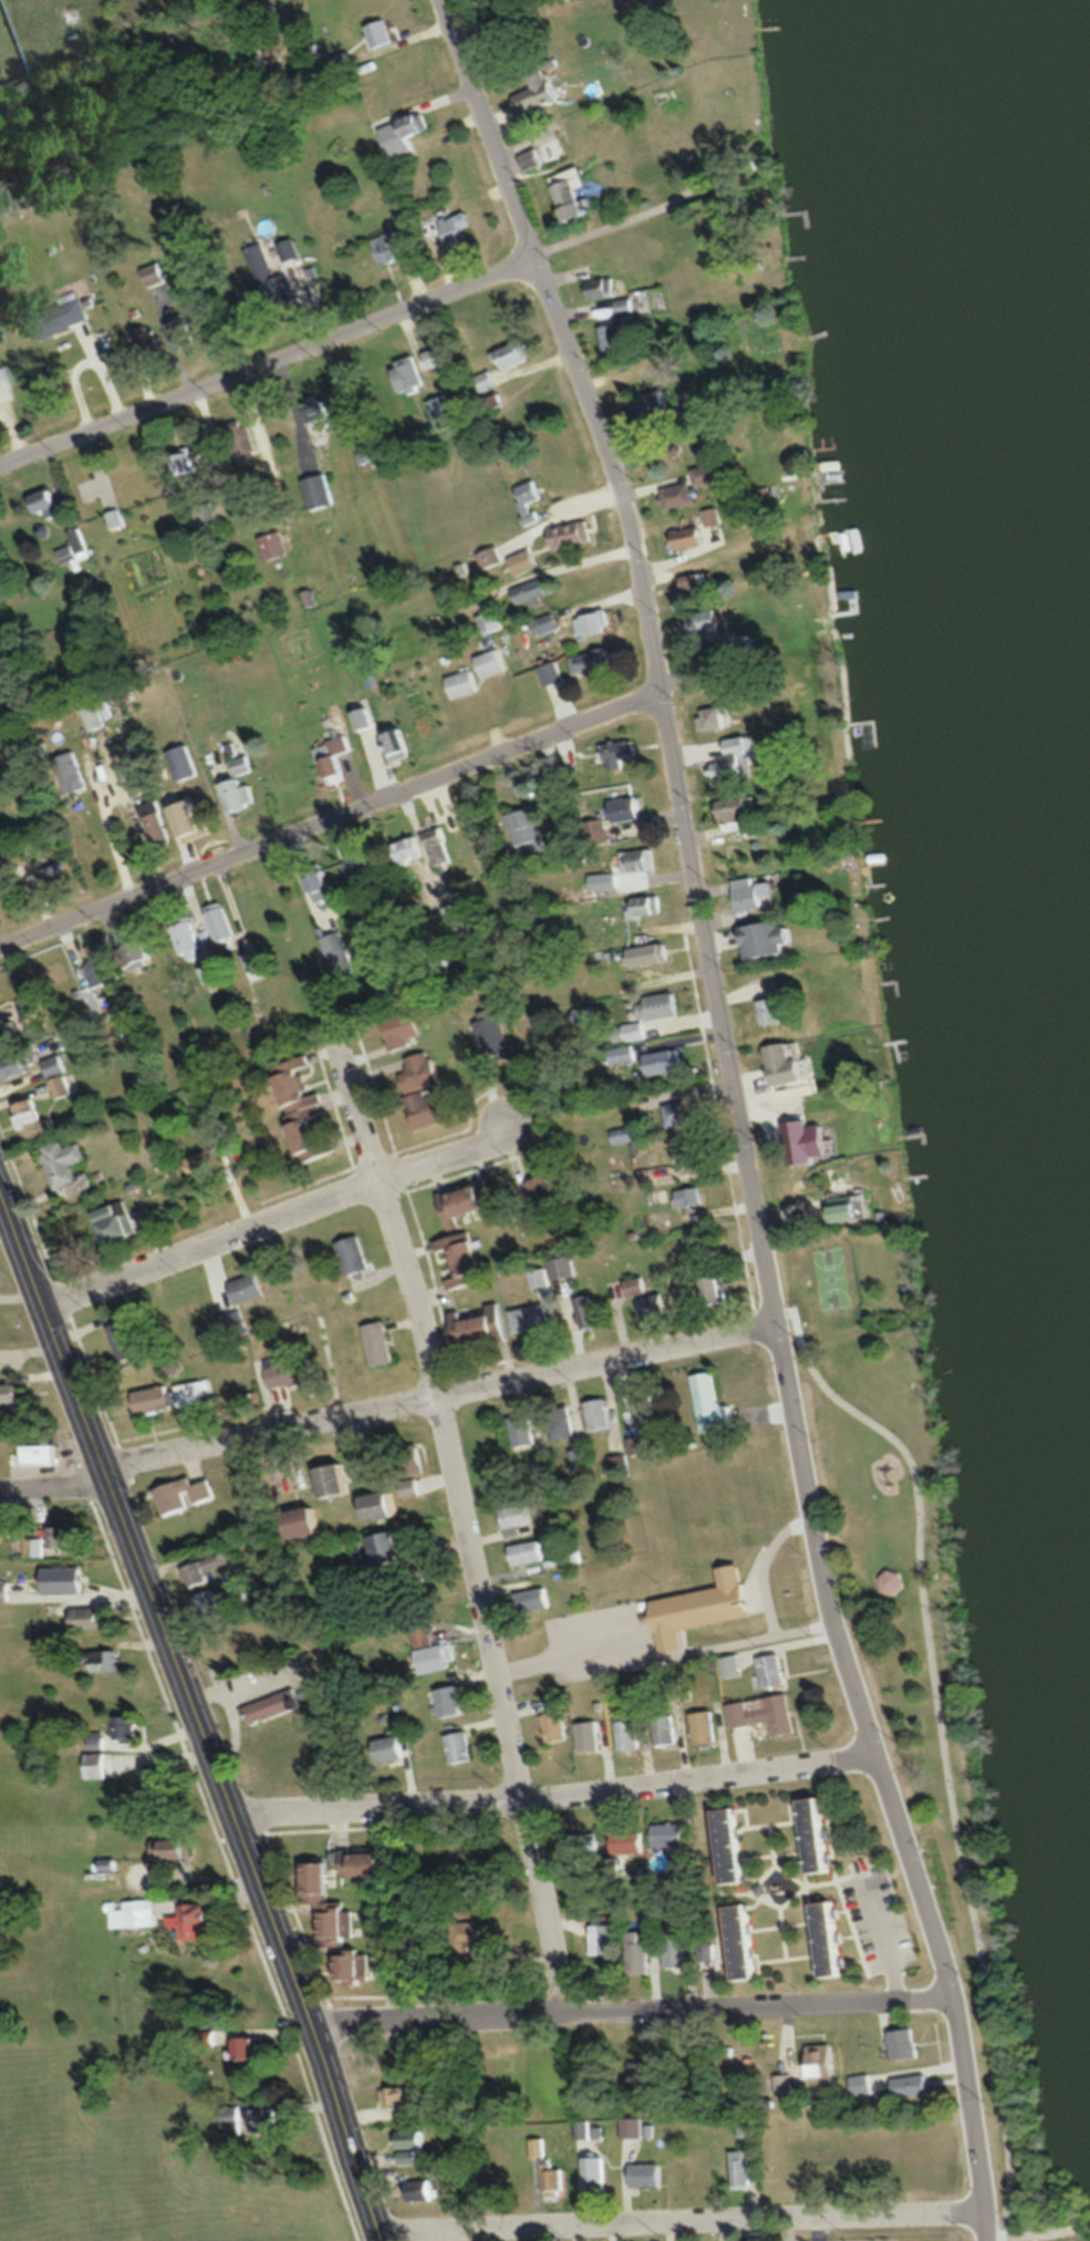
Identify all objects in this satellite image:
building: (380, 32)
building: (540, 87)
building: (405, 131)
building: (577, 195)
building: (460, 226)
building: (391, 246)
building: (288, 248)
building: (157, 273)
building: (271, 273)
building: (602, 286)
building: (629, 304)
building: (62, 317)
road: (355, 329)
building: (189, 332)
building: (614, 337)
building: (152, 340)
building: (516, 353)
building: (436, 358)
building: (409, 374)
building: (3, 379)
building: (486, 380)
building: (497, 401)
building: (653, 403)
building: (445, 413)
building: (241, 437)
building: (186, 462)
building: (712, 473)
building: (319, 492)
building: (681, 495)
building: (529, 498)
building: (50, 504)
building: (209, 515)
building: (718, 516)
building: (116, 518)
building: (572, 533)
building: (692, 537)
building: (74, 547)
building: (525, 561)
building: (694, 582)
building: (537, 591)
building: (492, 621)
building: (595, 623)
building: (708, 623)
building: (598, 661)
building: (494, 663)
building: (552, 673)
building: (463, 683)
building: (95, 713)
building: (715, 717)
building: (363, 720)
building: (397, 742)
building: (619, 753)
building: (735, 758)
building: (329, 762)
building: (71, 773)
building: (145, 776)
building: (627, 809)
building: (741, 809)
building: (191, 815)
road: (329, 818)
building: (158, 820)
building: (529, 836)
building: (438, 847)
building: (641, 859)
building: (366, 860)
road: (691, 867)
building: (323, 885)
building: (757, 894)
building: (367, 896)
building: (646, 907)
building: (457, 915)
building: (224, 921)
building: (189, 938)
building: (775, 939)
building: (338, 952)
building: (139, 953)
building: (652, 953)
building: (256, 964)
building: (98, 970)
building: (215, 972)
building: (27, 1003)
building: (664, 1005)
building: (779, 1005)
building: (583, 1014)
building: (403, 1027)
building: (8, 1031)
building: (495, 1032)
building: (668, 1062)
building: (788, 1064)
building: (15, 1065)
building: (422, 1071)
building: (60, 1076)
building: (430, 1108)
building: (683, 1114)
building: (304, 1115)
building: (35, 1118)
building: (627, 1134)
building: (803, 1154)
building: (691, 1157)
building: (211, 1160)
building: (65, 1161)
building: (547, 1192)
building: (691, 1197)
building: (479, 1198)
building: (848, 1209)
road: (278, 1214)
building: (121, 1220)
building: (465, 1251)
building: (354, 1254)
building: (553, 1271)
building: (251, 1287)
building: (718, 1289)
building: (686, 1301)
building: (655, 1305)
building: (584, 1313)
building: (533, 1318)
building: (480, 1326)
building: (127, 1333)
building: (378, 1342)
building: (292, 1369)
building: (13, 1391)
building: (194, 1392)
road: (437, 1392)
building: (155, 1397)
building: (645, 1403)
building: (713, 1403)
building: (598, 1413)
building: (562, 1421)
building: (522, 1429)
building: (640, 1444)
building: (46, 1453)
building: (581, 1455)
building: (544, 1463)
building: (620, 1463)
building: (342, 1478)
road: (53, 1483)
building: (186, 1494)
building: (386, 1504)
building: (518, 1514)
building: (312, 1520)
road: (459, 1522)
building: (69, 1536)
building: (35, 1546)
building: (387, 1547)
building: (529, 1551)
road: (765, 1551)
building: (571, 1553)
building: (214, 1563)
building: (65, 1578)
building: (892, 1580)
building: (6, 1591)
building: (700, 1591)
building: (536, 1599)
building: (208, 1604)
building: (91, 1617)
road: (663, 1644)
building: (435, 1656)
building: (96, 1660)
building: (733, 1665)
building: (775, 1670)
building: (673, 1685)
building: (450, 1700)
building: (274, 1704)
road: (195, 1713)
building: (768, 1713)
building: (557, 1726)
building: (707, 1726)
building: (127, 1727)
building: (666, 1728)
building: (629, 1734)
building: (589, 1736)
road: (943, 1741)
building: (459, 1746)
building: (392, 1747)
building: (155, 1778)
road: (553, 1787)
building: (671, 1832)
building: (820, 1834)
building: (632, 1841)
building: (585, 1842)
building: (733, 1844)
building: (174, 1848)
building: (367, 1862)
building: (323, 1877)
building: (683, 1883)
building: (141, 1911)
building: (340, 1918)
building: (200, 1920)
road: (883, 1927)
building: (832, 1938)
building: (603, 1939)
building: (746, 1941)
building: (675, 1951)
building: (640, 1954)
building: (709, 1956)
building: (360, 1966)
road: (952, 1992)
road: (632, 2002)
building: (906, 2043)
building: (249, 2047)
building: (695, 2051)
building: (824, 2062)
building: (786, 2082)
building: (863, 2083)
building: (912, 2085)
building: (405, 2094)
building: (282, 2118)
building: (634, 2126)
building: (746, 2127)
building: (419, 2137)
building: (538, 2146)
building: (415, 2156)
building: (740, 2168)
building: (598, 2173)
building: (648, 2175)
building: (552, 2178)
building: (430, 2189)
road: (676, 2207)
road: (818, 2222)
road: (855, 2233)

